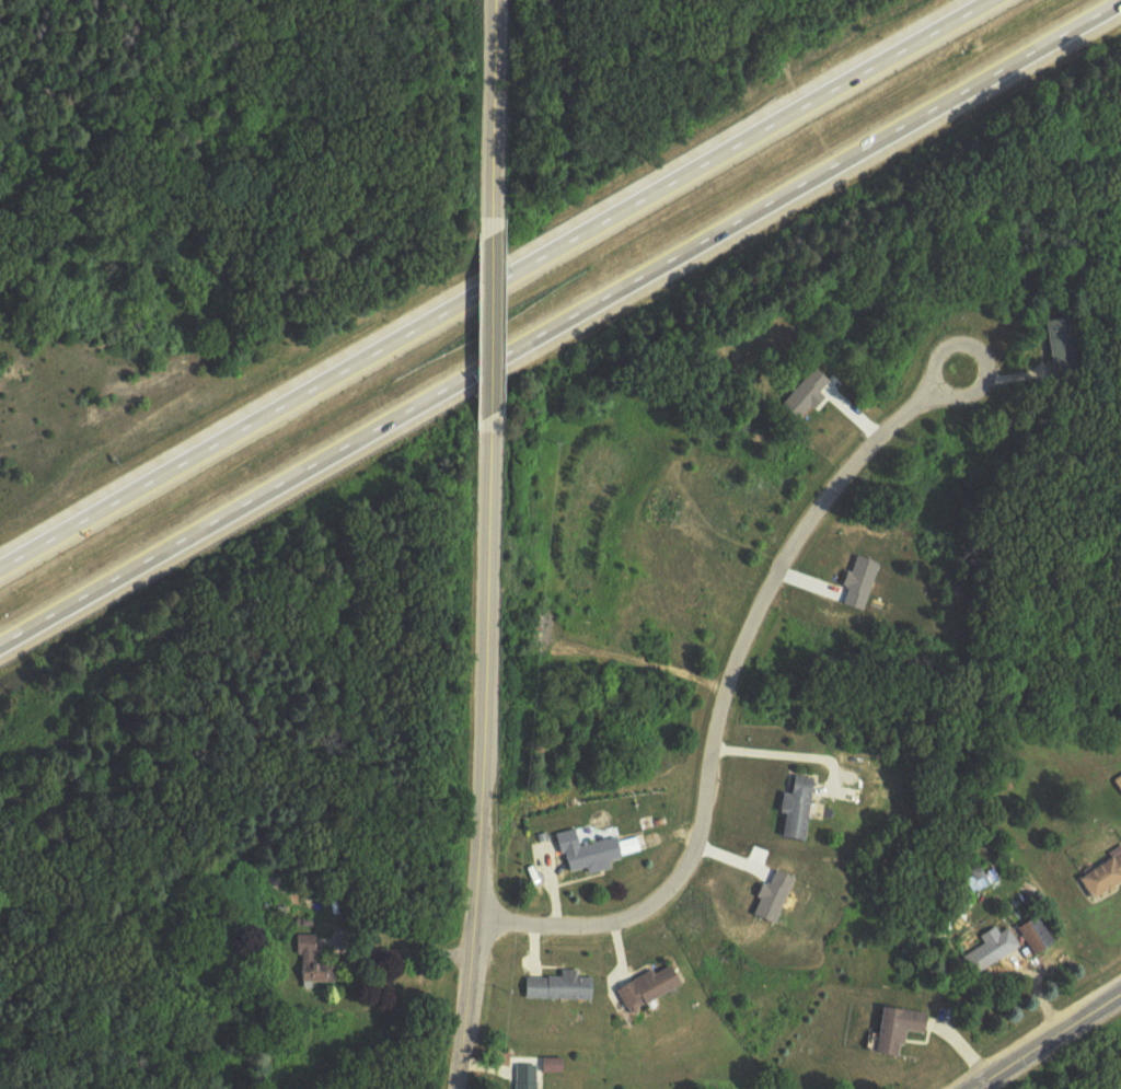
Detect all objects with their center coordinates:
road: (493, 116)
road: (490, 281)
road: (492, 323)
road: (559, 323)
building: (1062, 350)
road: (725, 698)
road: (779, 750)
road: (482, 752)
building: (1119, 784)
building: (799, 809)
building: (589, 854)
building: (1105, 879)
building: (981, 880)
building: (1038, 936)
road: (408, 949)
building: (992, 950)
building: (314, 962)
building: (560, 987)
building: (651, 987)
building: (900, 1030)
road: (1047, 1041)
building: (527, 1077)

